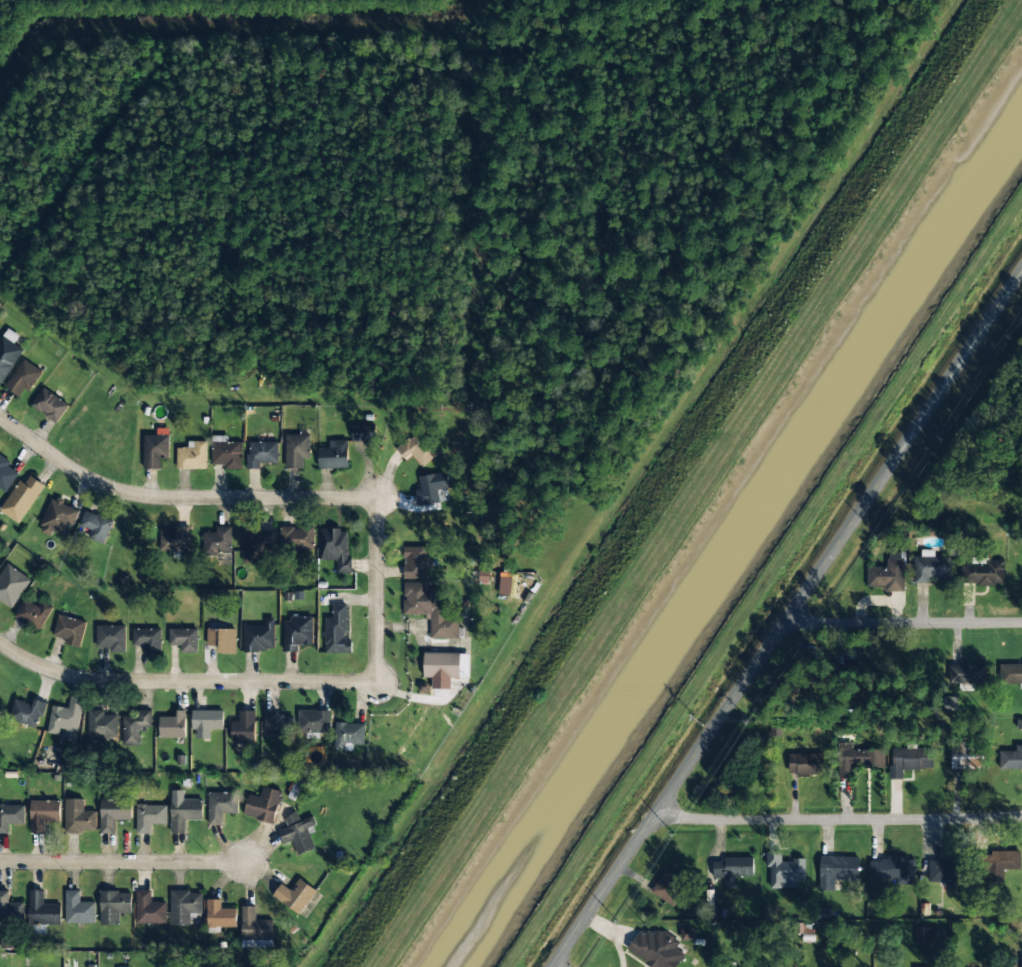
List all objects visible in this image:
building: (8, 353)
building: (22, 378)
building: (49, 405)
building: (362, 433)
building: (418, 449)
building: (155, 450)
building: (296, 450)
building: (226, 453)
building: (261, 454)
building: (333, 455)
building: (192, 456)
building: (6, 474)
building: (433, 487)
road: (178, 497)
building: (21, 498)
building: (57, 517)
building: (96, 526)
building: (297, 537)
building: (175, 539)
building: (218, 540)
building: (254, 545)
building: (335, 548)
building: (416, 562)
building: (931, 567)
building: (982, 573)
building: (887, 576)
building: (505, 584)
building: (11, 585)
road: (378, 590)
building: (430, 609)
building: (33, 614)
road: (787, 619)
road: (903, 623)
building: (70, 630)
building: (336, 632)
building: (297, 633)
building: (111, 637)
building: (259, 637)
building: (147, 639)
building: (184, 639)
building: (222, 639)
building: (446, 665)
building: (967, 675)
road: (184, 680)
building: (27, 712)
building: (65, 717)
building: (313, 721)
building: (206, 722)
building: (278, 723)
building: (102, 724)
building: (173, 726)
building: (135, 727)
building: (243, 728)
building: (348, 736)
building: (965, 758)
building: (856, 759)
building: (1011, 759)
building: (909, 760)
building: (805, 764)
building: (263, 805)
building: (221, 806)
building: (183, 811)
building: (113, 813)
building: (43, 814)
building: (11, 816)
building: (150, 816)
building: (78, 817)
road: (838, 817)
building: (298, 832)
road: (123, 861)
building: (1003, 864)
building: (732, 869)
building: (892, 869)
building: (784, 871)
building: (836, 871)
building: (943, 872)
building: (668, 889)
building: (295, 895)
building: (113, 906)
building: (184, 906)
building: (10, 908)
building: (78, 909)
building: (149, 909)
building: (42, 910)
building: (219, 915)
building: (255, 930)
building: (687, 934)
building: (923, 935)
building: (655, 949)
building: (1021, 962)

